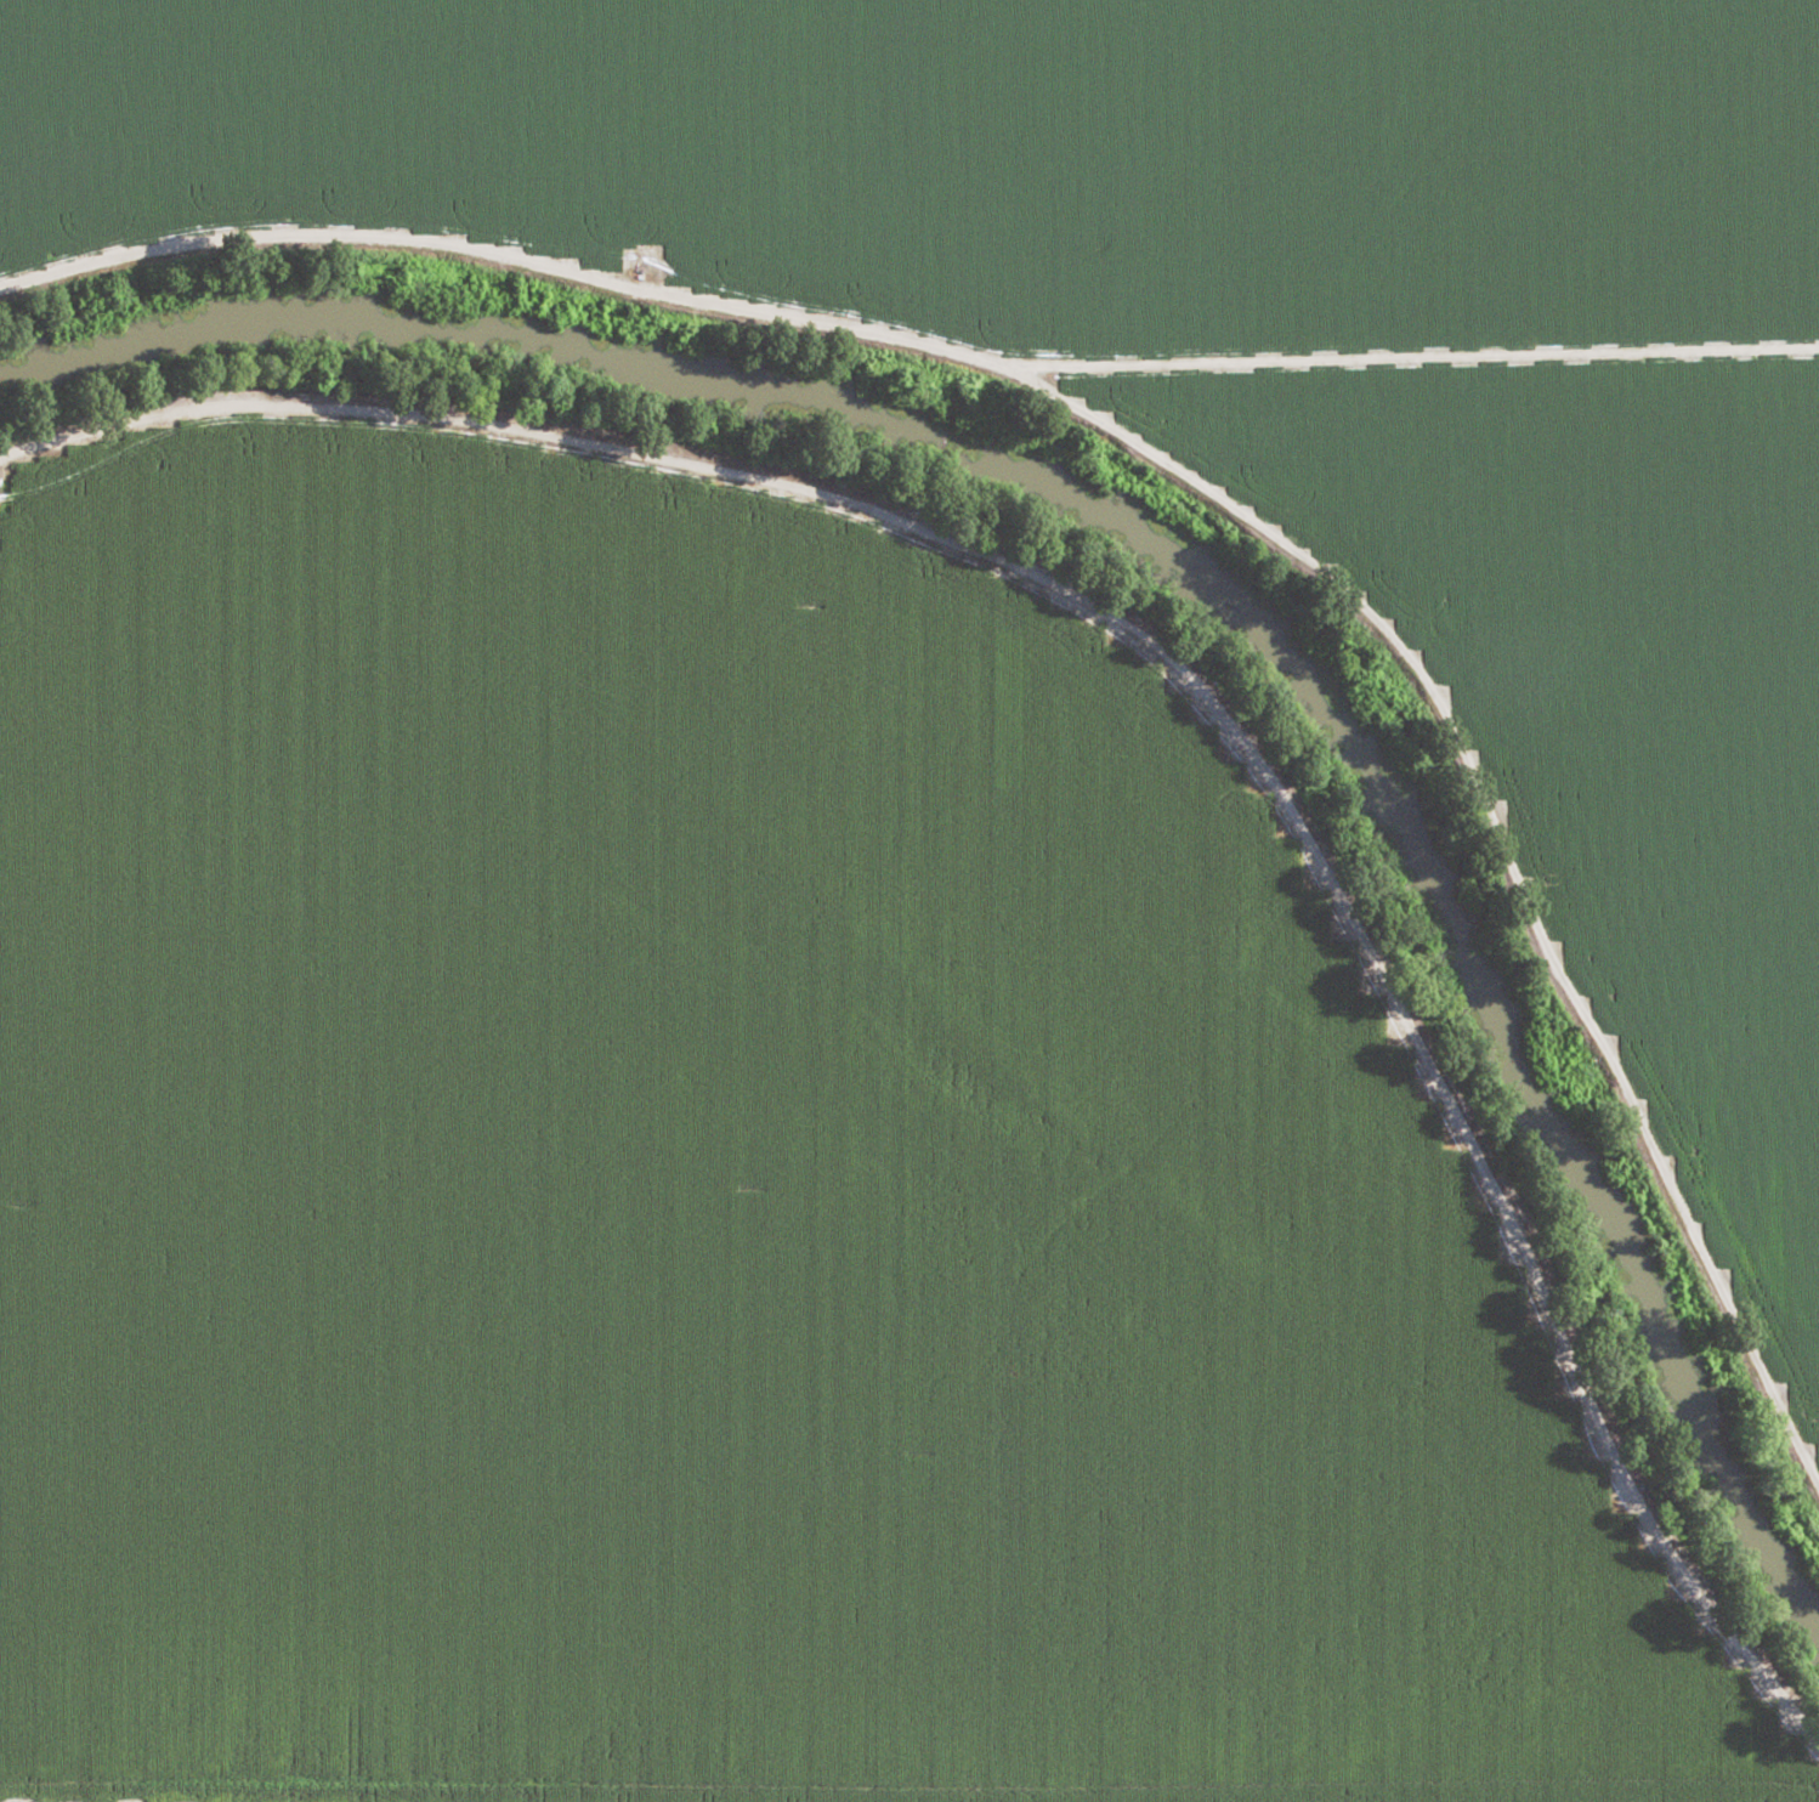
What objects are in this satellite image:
road: (1181, 471)
river: (1162, 585)
road: (1178, 681)
road: (46, 1796)
road: (15, 1798)
road: (313, 1798)

